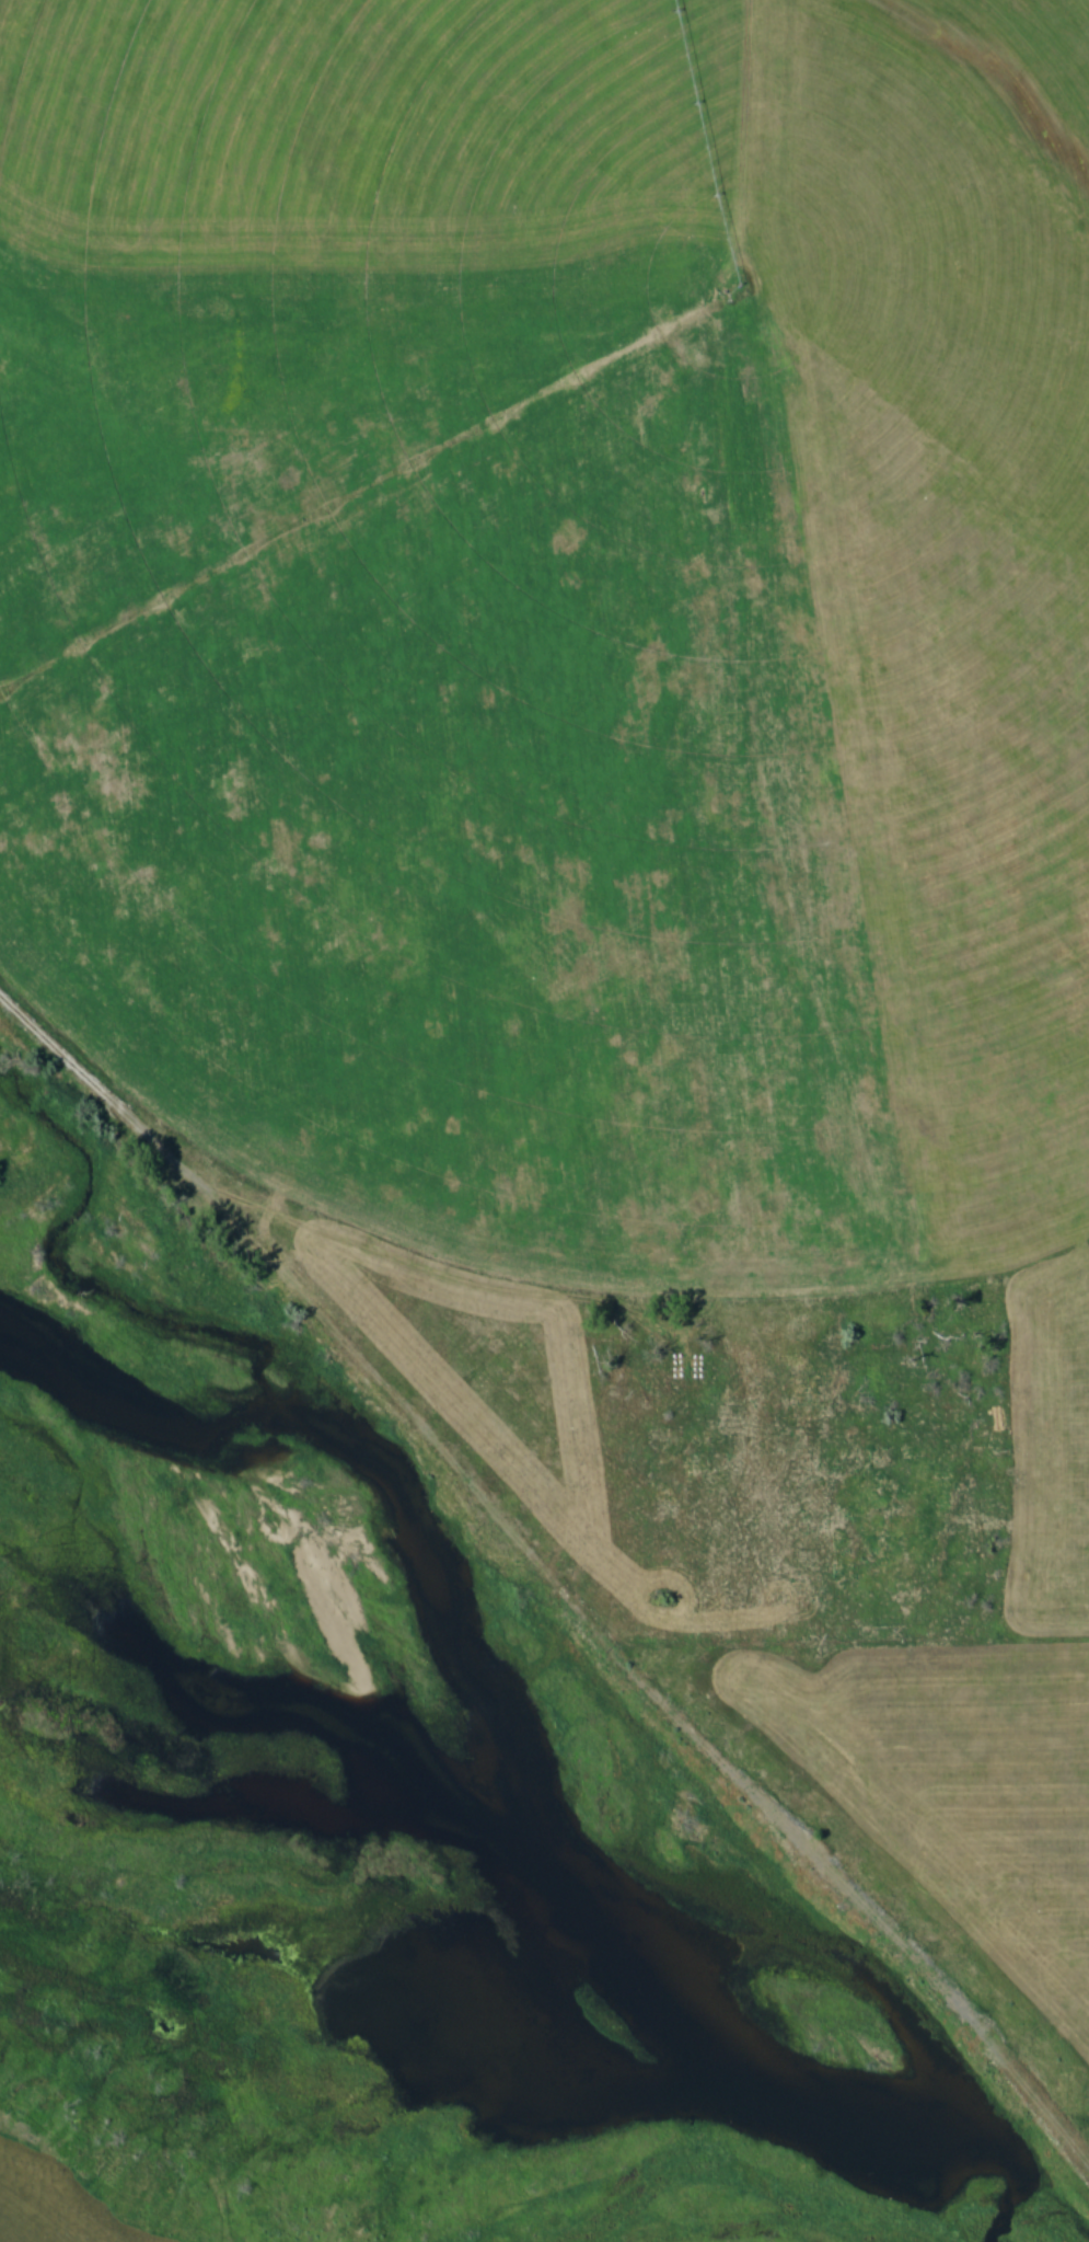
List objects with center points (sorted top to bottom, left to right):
river: (0, 2241)

